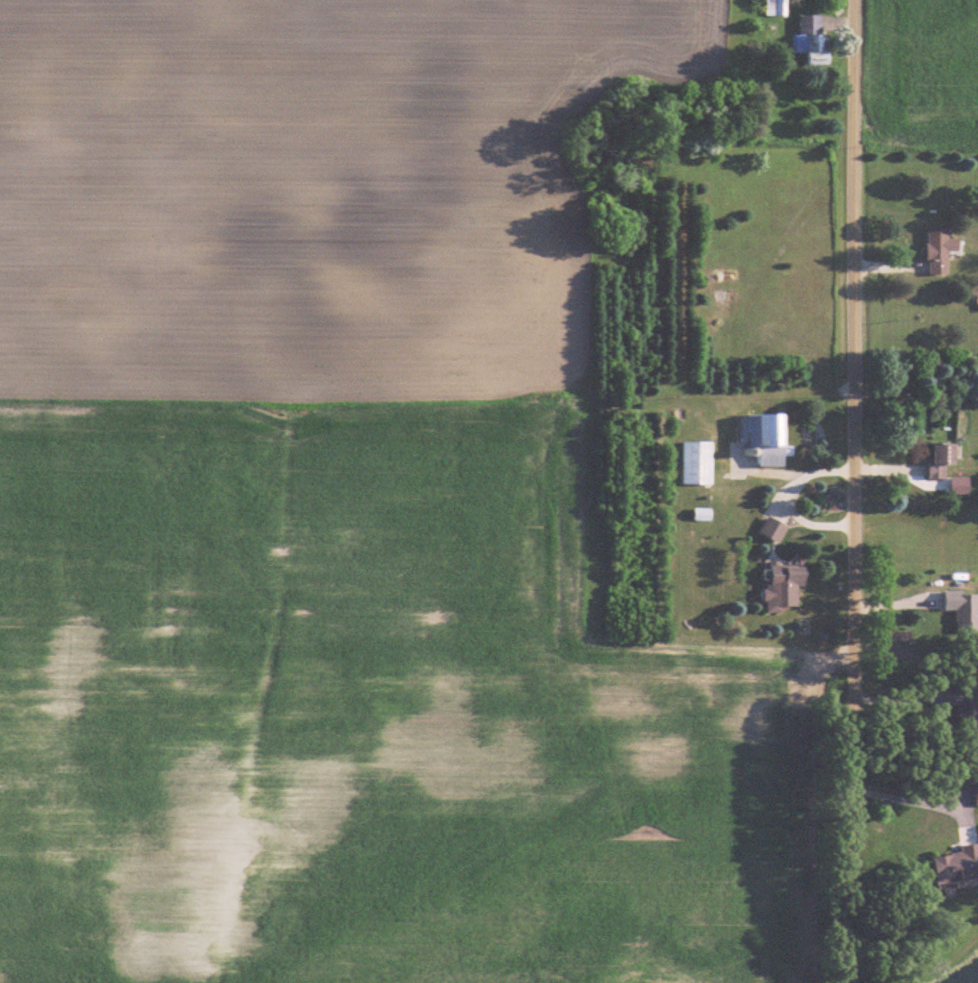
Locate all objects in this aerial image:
building: (777, 7)
building: (813, 39)
building: (942, 249)
building: (767, 438)
building: (945, 459)
building: (699, 462)
road: (795, 470)
road: (853, 491)
road: (796, 515)
building: (775, 529)
building: (786, 586)
building: (964, 610)
building: (966, 705)
road: (916, 796)
building: (959, 866)

